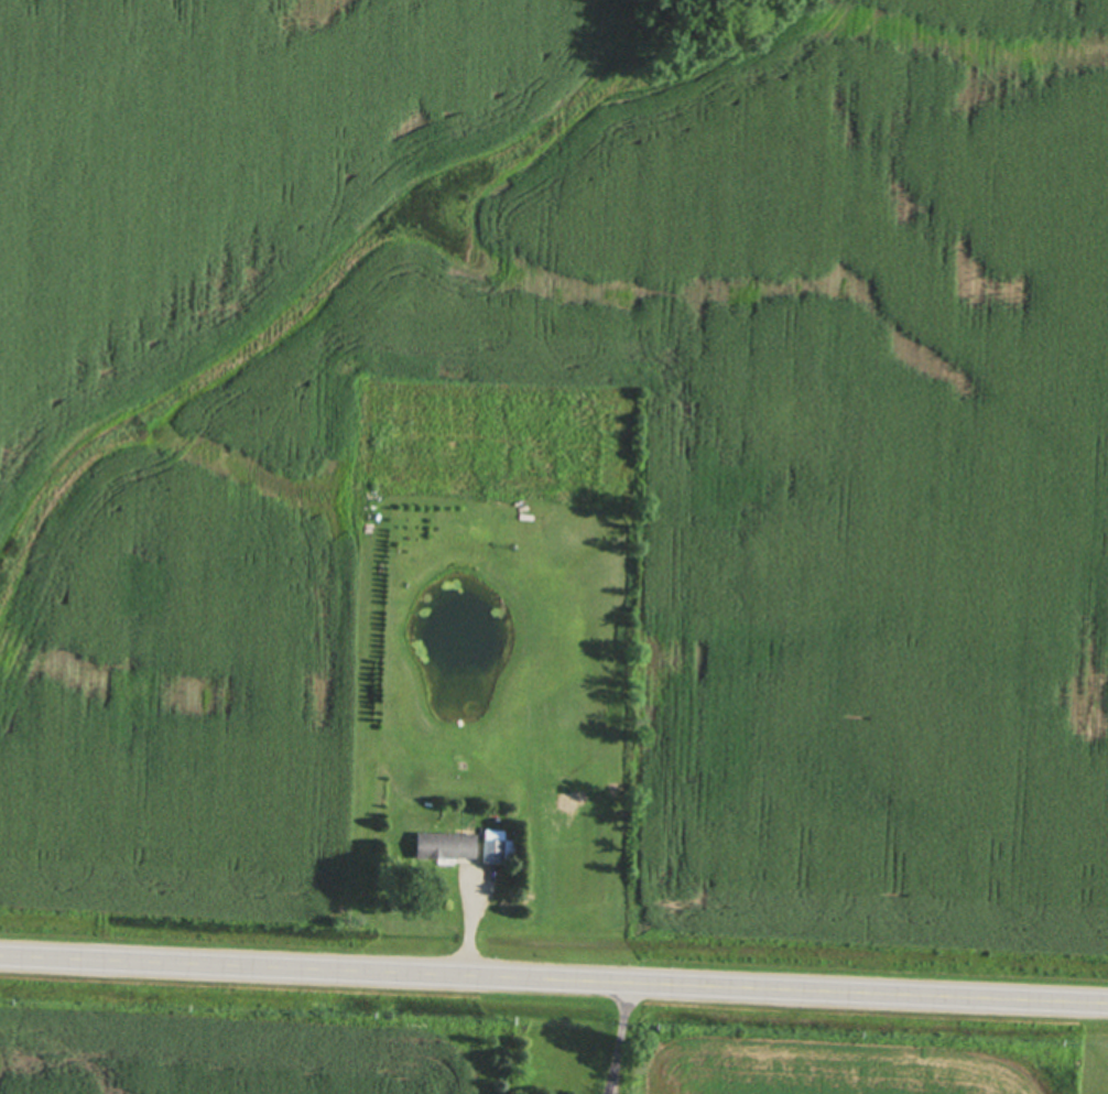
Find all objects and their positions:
building: (564, 802)
building: (444, 849)
building: (493, 849)
road: (553, 983)

